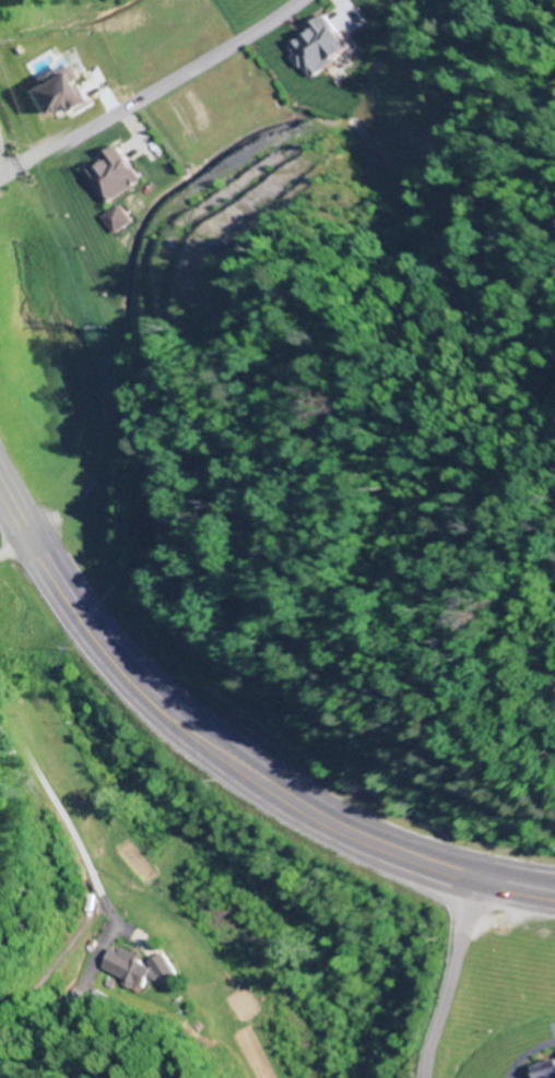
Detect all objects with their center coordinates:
road: (168, 82)
road: (16, 171)
building: (107, 176)
road: (14, 545)
road: (224, 763)
road: (75, 855)
building: (122, 968)
road: (451, 981)
building: (546, 1070)

